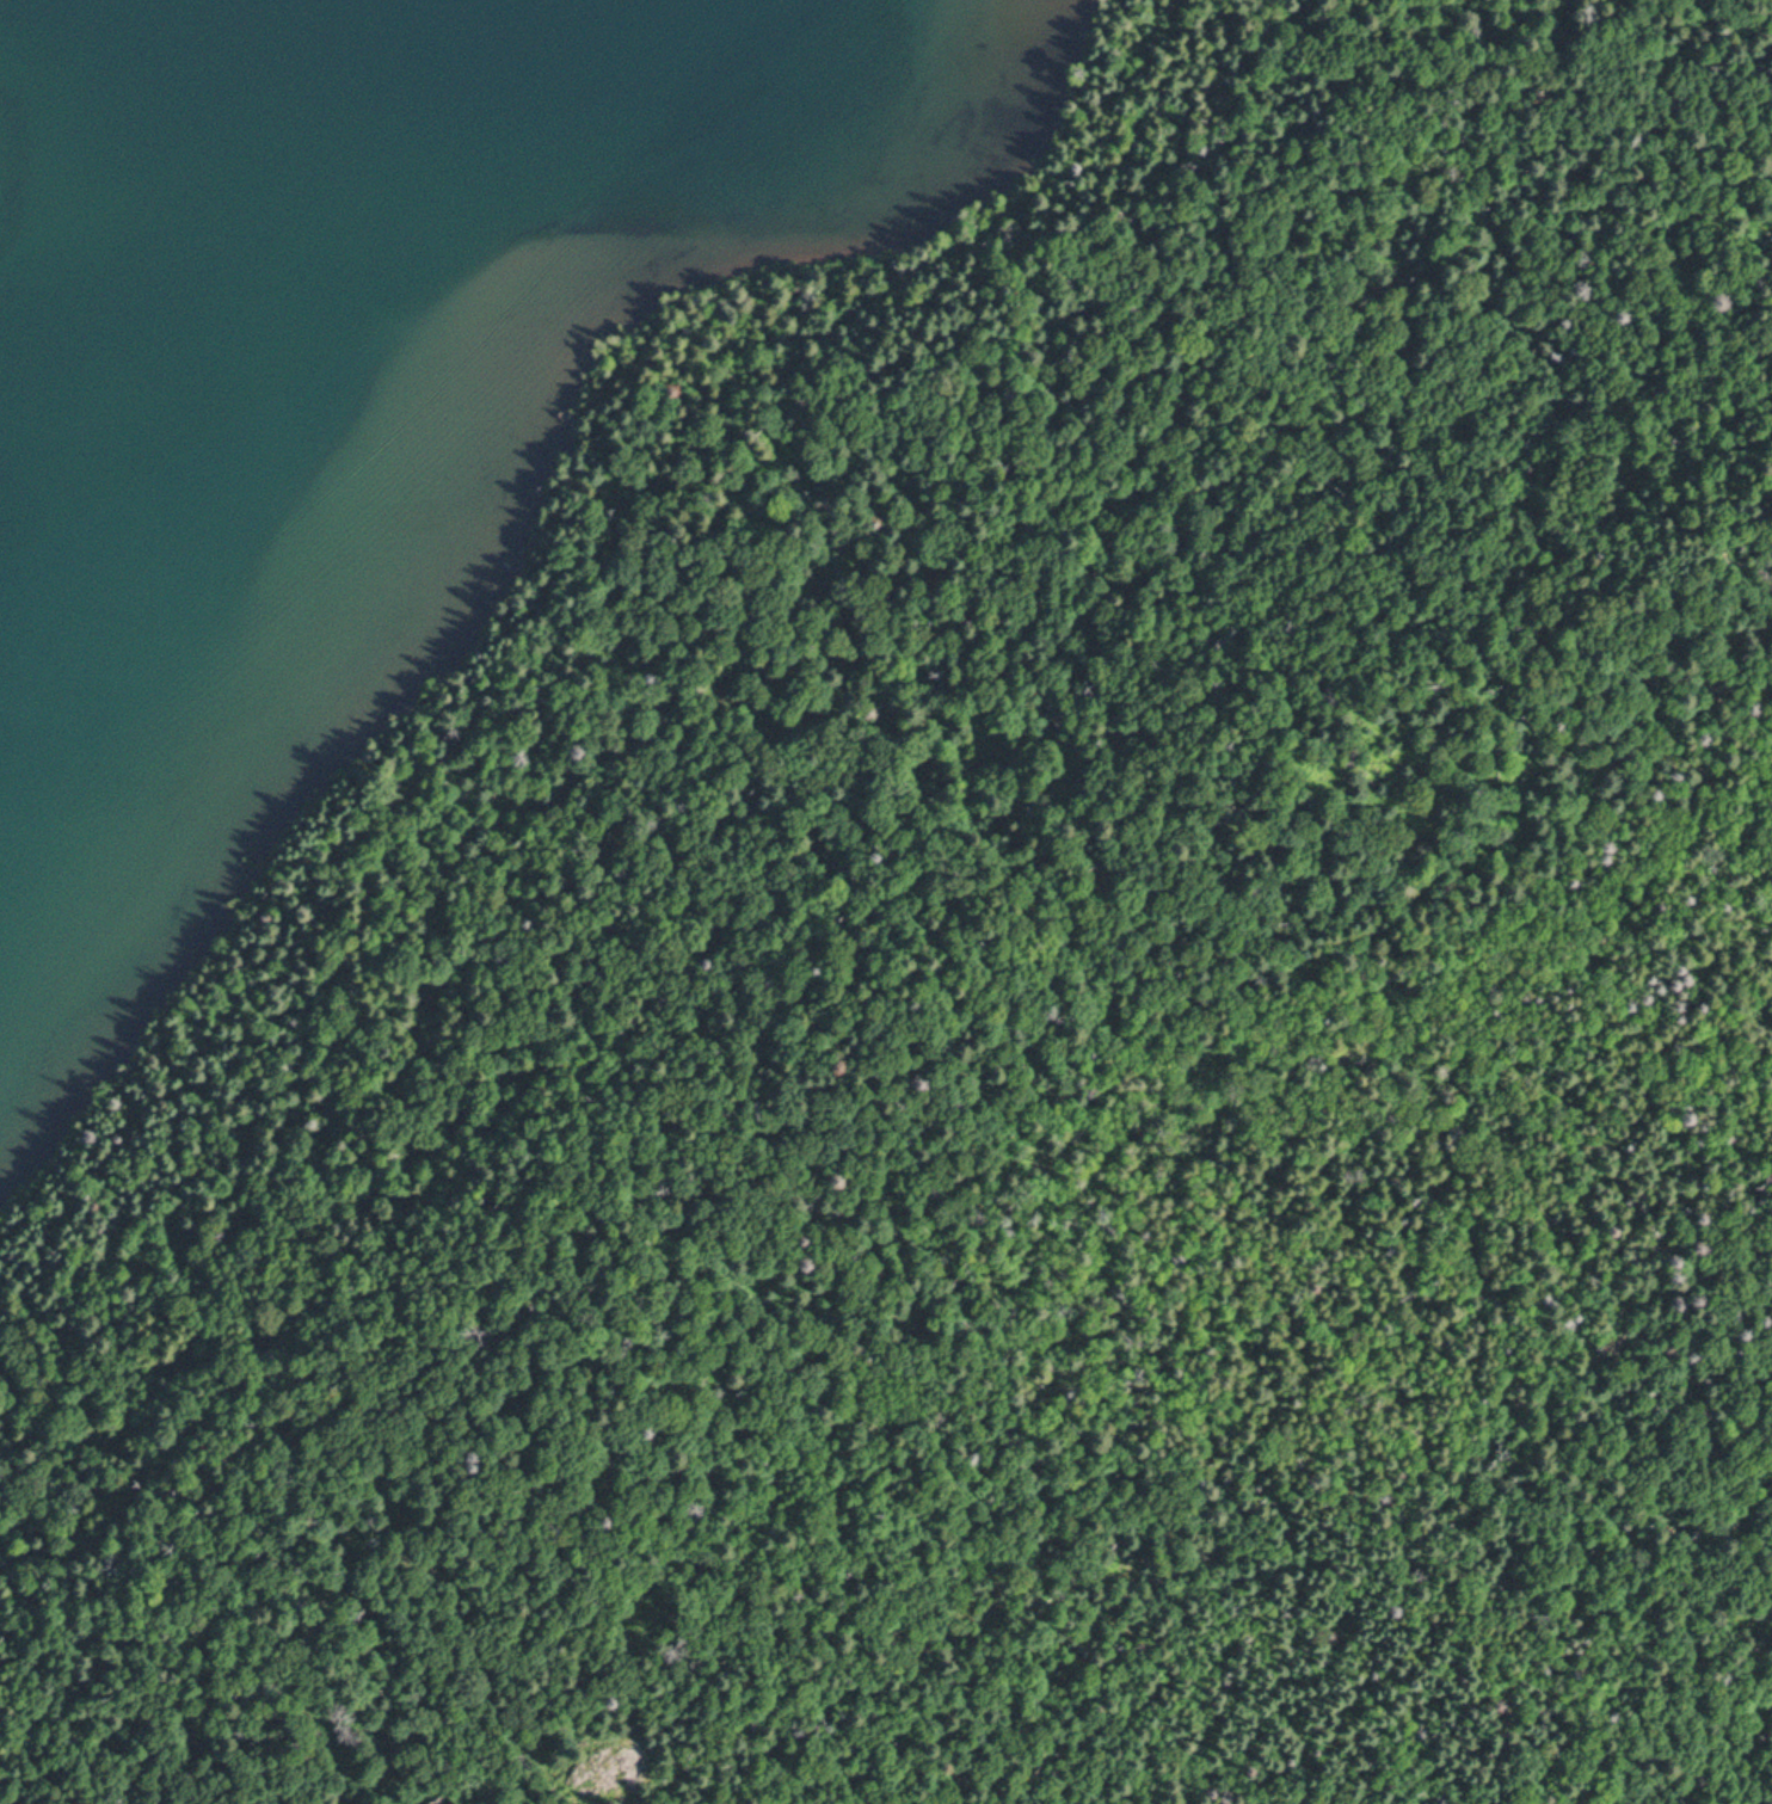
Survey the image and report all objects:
road: (1425, 84)
road: (576, 629)

